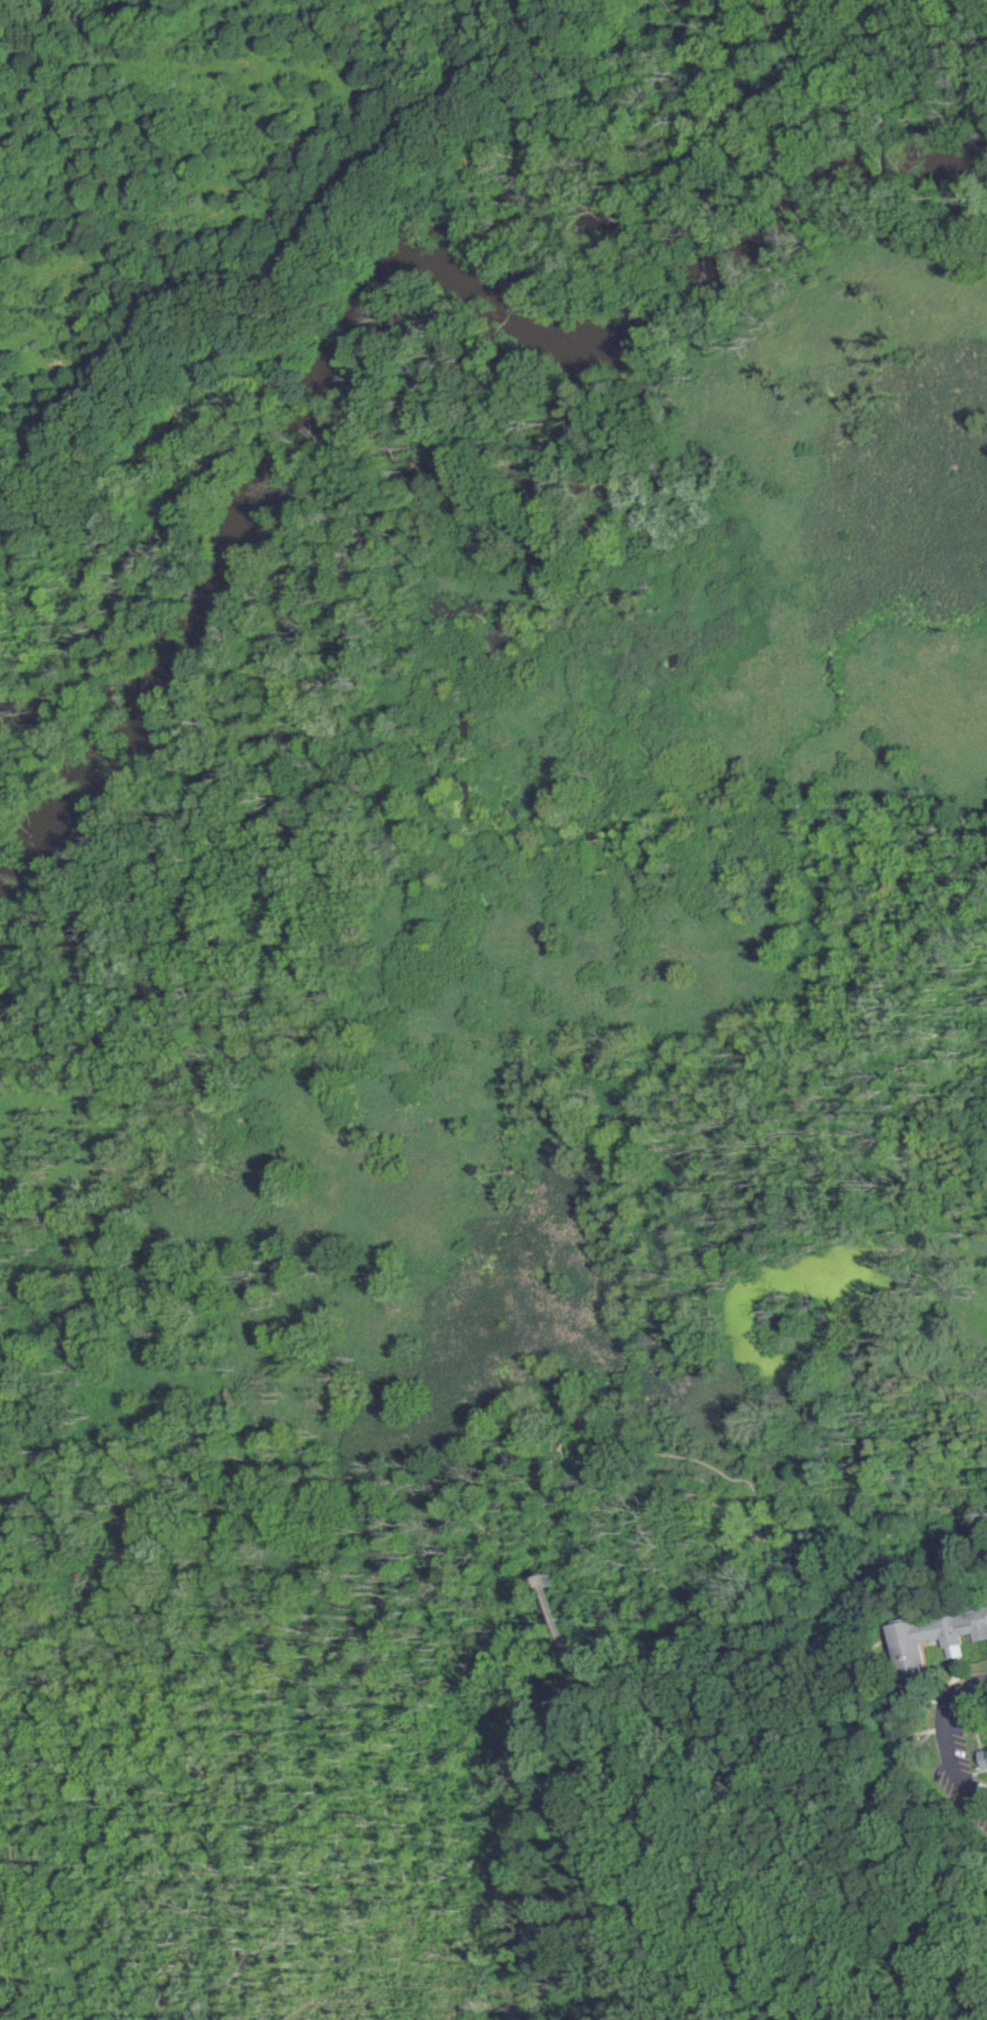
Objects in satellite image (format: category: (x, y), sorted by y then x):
river: (384, 277)
road: (890, 1297)
road: (913, 1314)
road: (568, 1431)
road: (791, 1521)
road: (899, 1567)
building: (930, 1629)
road: (561, 1657)
road: (597, 1679)
road: (623, 1727)
road: (940, 1731)
parking lot: (955, 1740)
building: (980, 1750)
road: (772, 1849)
road: (906, 1877)
road: (561, 1942)
road: (762, 1987)

